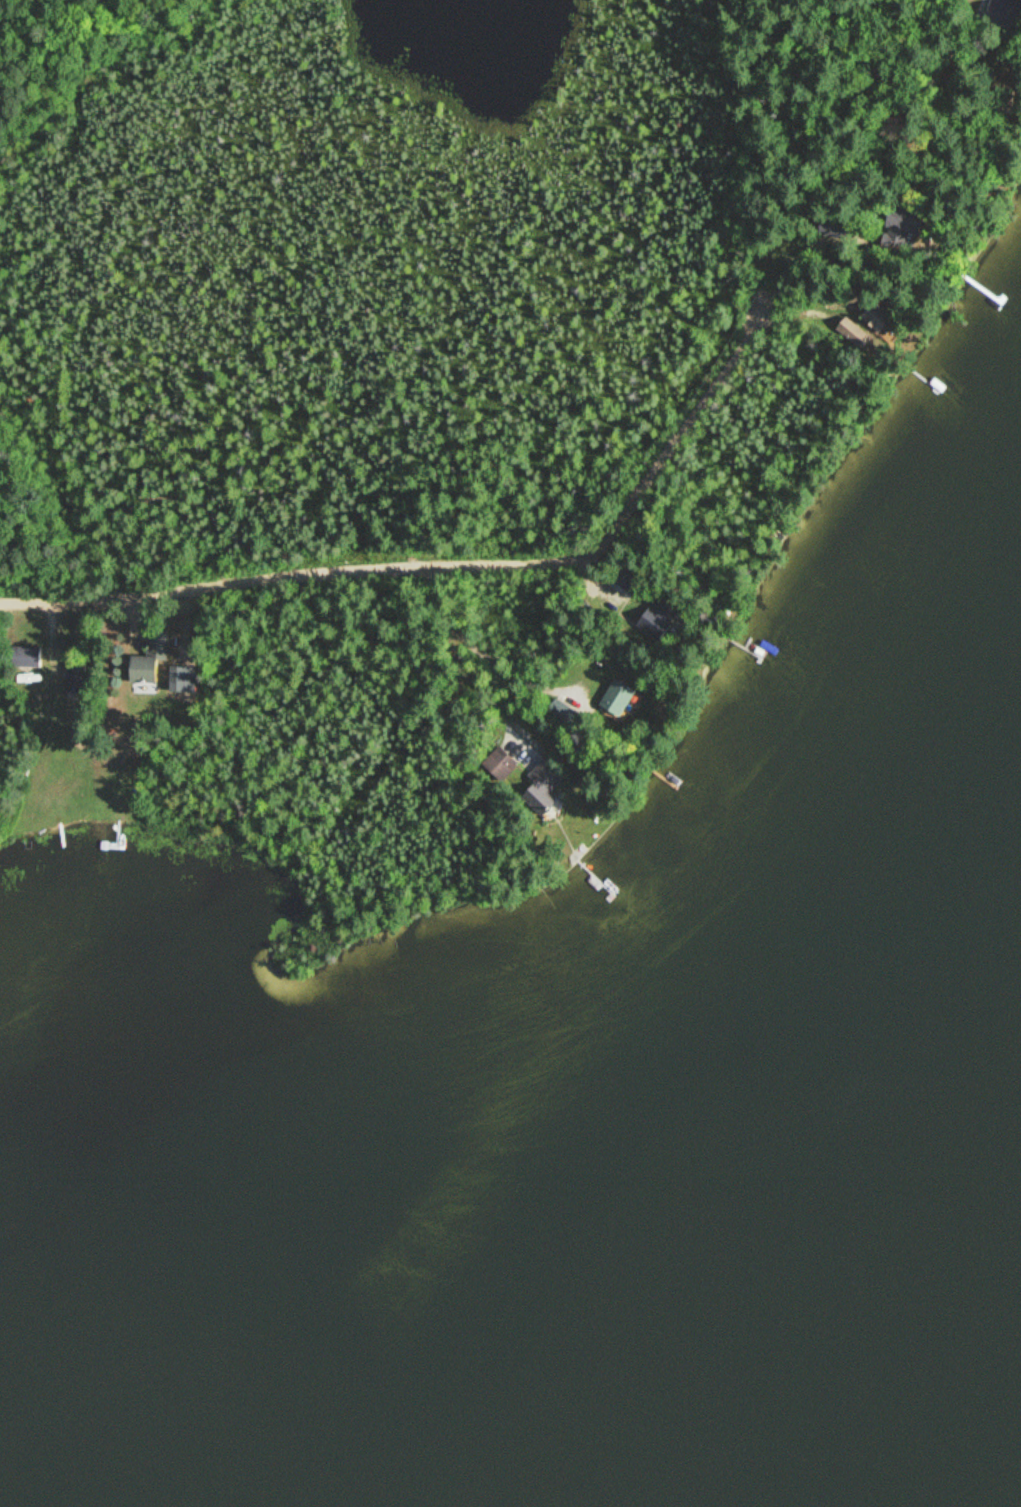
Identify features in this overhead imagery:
building: (831, 229)
building: (898, 229)
road: (767, 315)
building: (874, 317)
building: (852, 332)
road: (286, 579)
building: (626, 581)
building: (655, 620)
building: (26, 659)
building: (148, 660)
building: (75, 679)
building: (182, 680)
building: (615, 700)
building: (556, 714)
building: (499, 767)
building: (537, 786)

